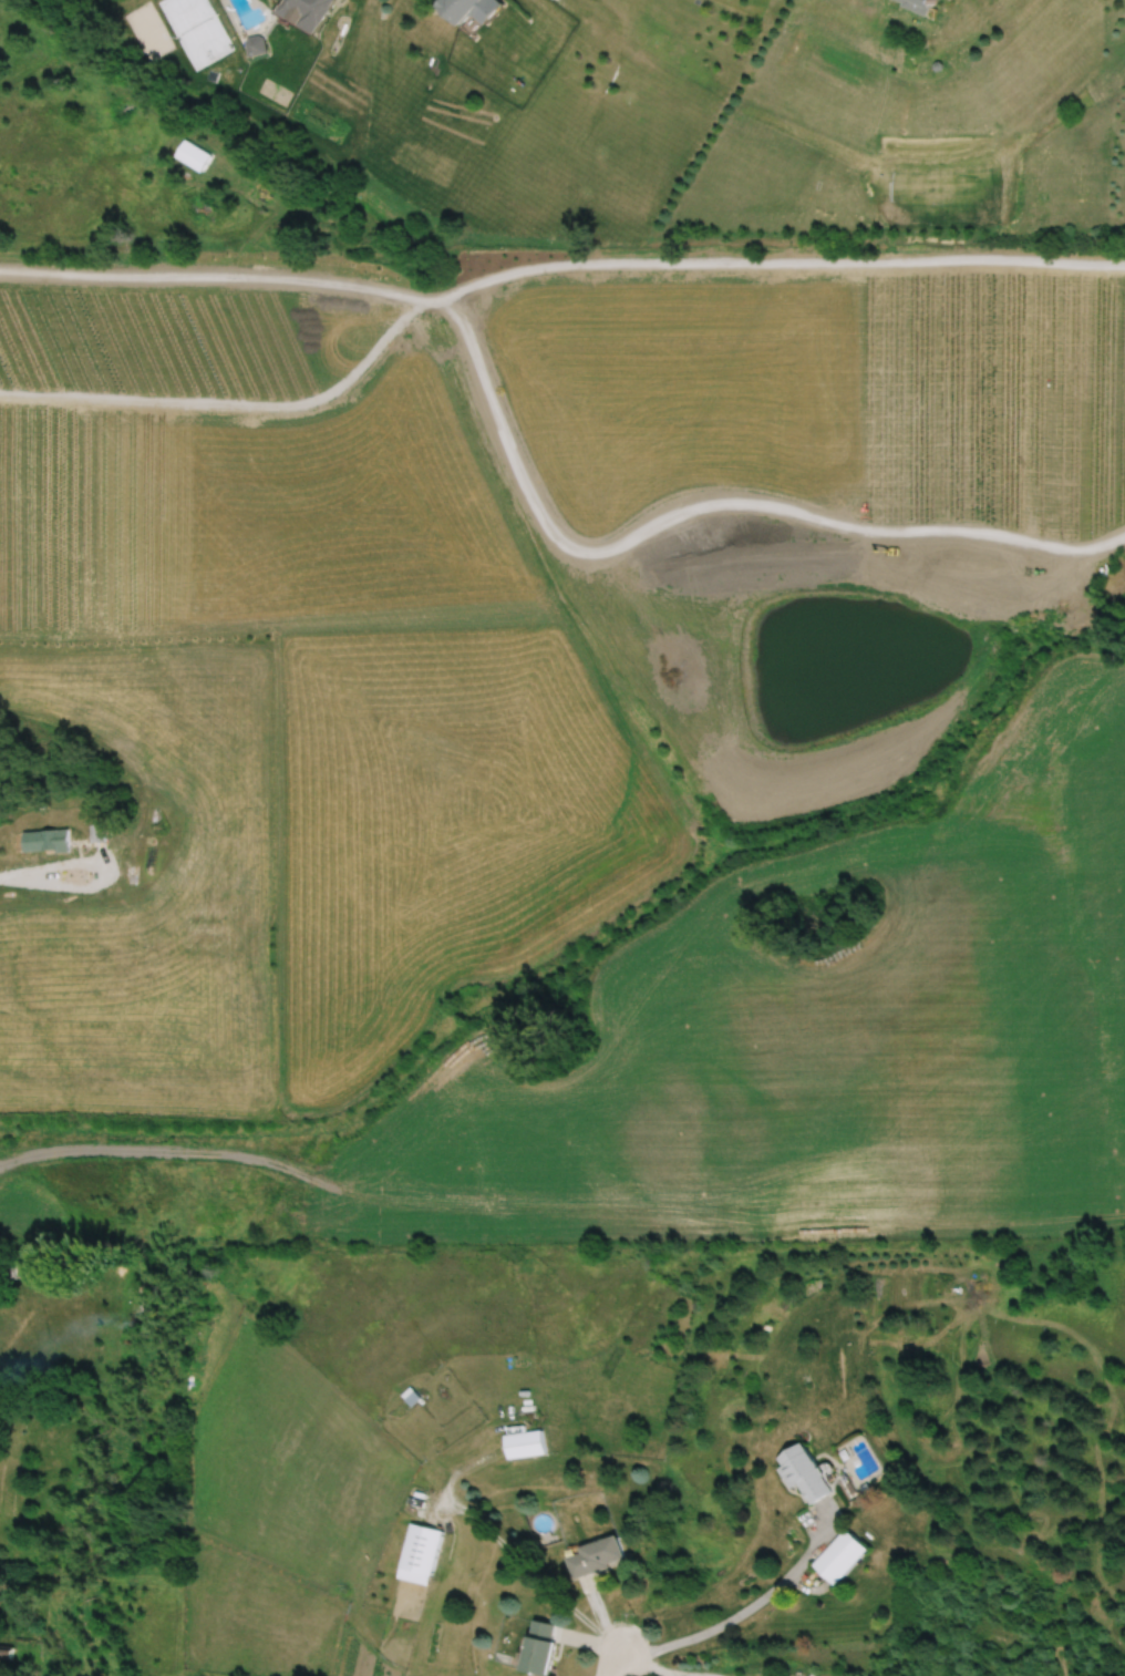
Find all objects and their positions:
building: (921, 4)
building: (463, 9)
building: (306, 12)
building: (256, 45)
road: (772, 259)
road: (214, 275)
road: (231, 401)
road: (704, 500)
park: (1104, 605)
building: (94, 832)
building: (41, 840)
building: (142, 855)
road: (42, 865)
building: (523, 1443)
building: (804, 1472)
road: (504, 1550)
building: (840, 1553)
building: (419, 1554)
building: (595, 1556)
road: (741, 1610)
building: (540, 1647)
road: (610, 1660)

